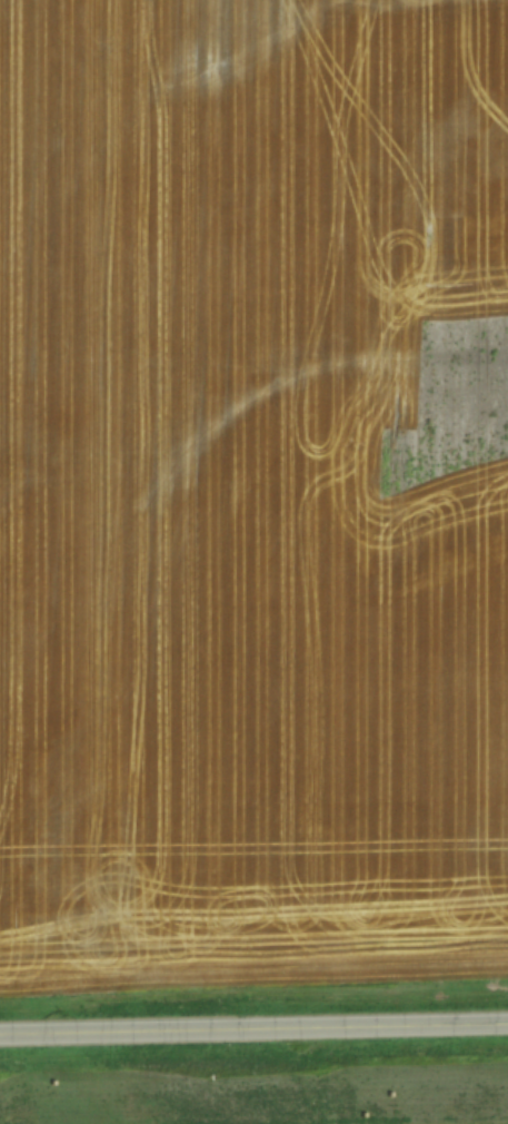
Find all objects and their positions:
road: (253, 1025)

